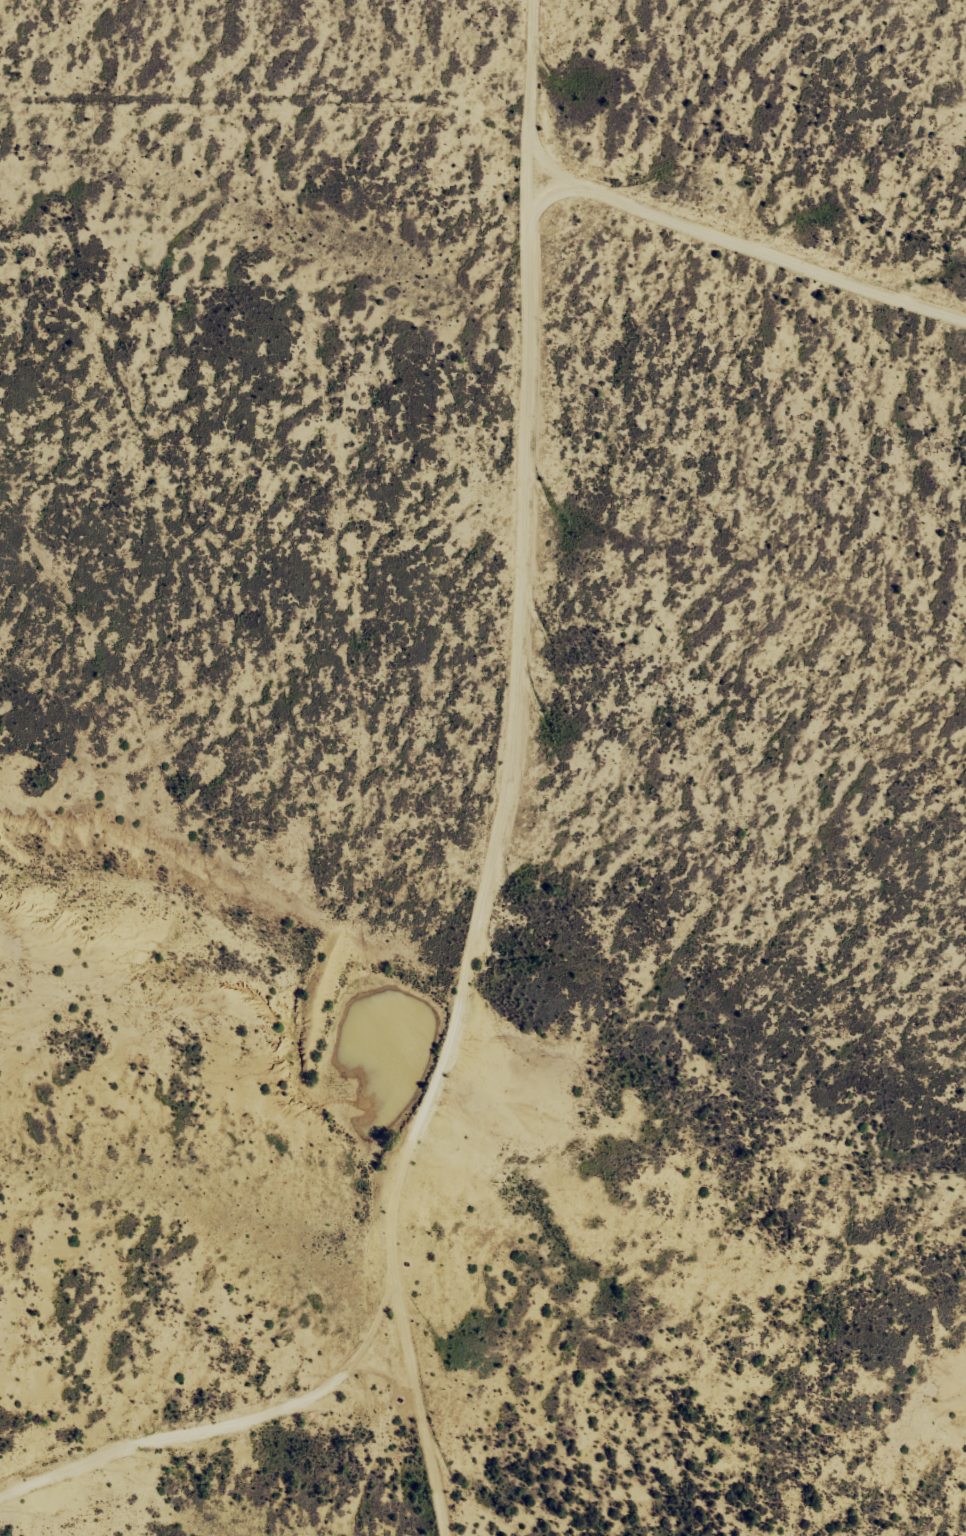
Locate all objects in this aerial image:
road: (268, 115)
road: (740, 260)
road: (492, 777)
road: (200, 1461)

